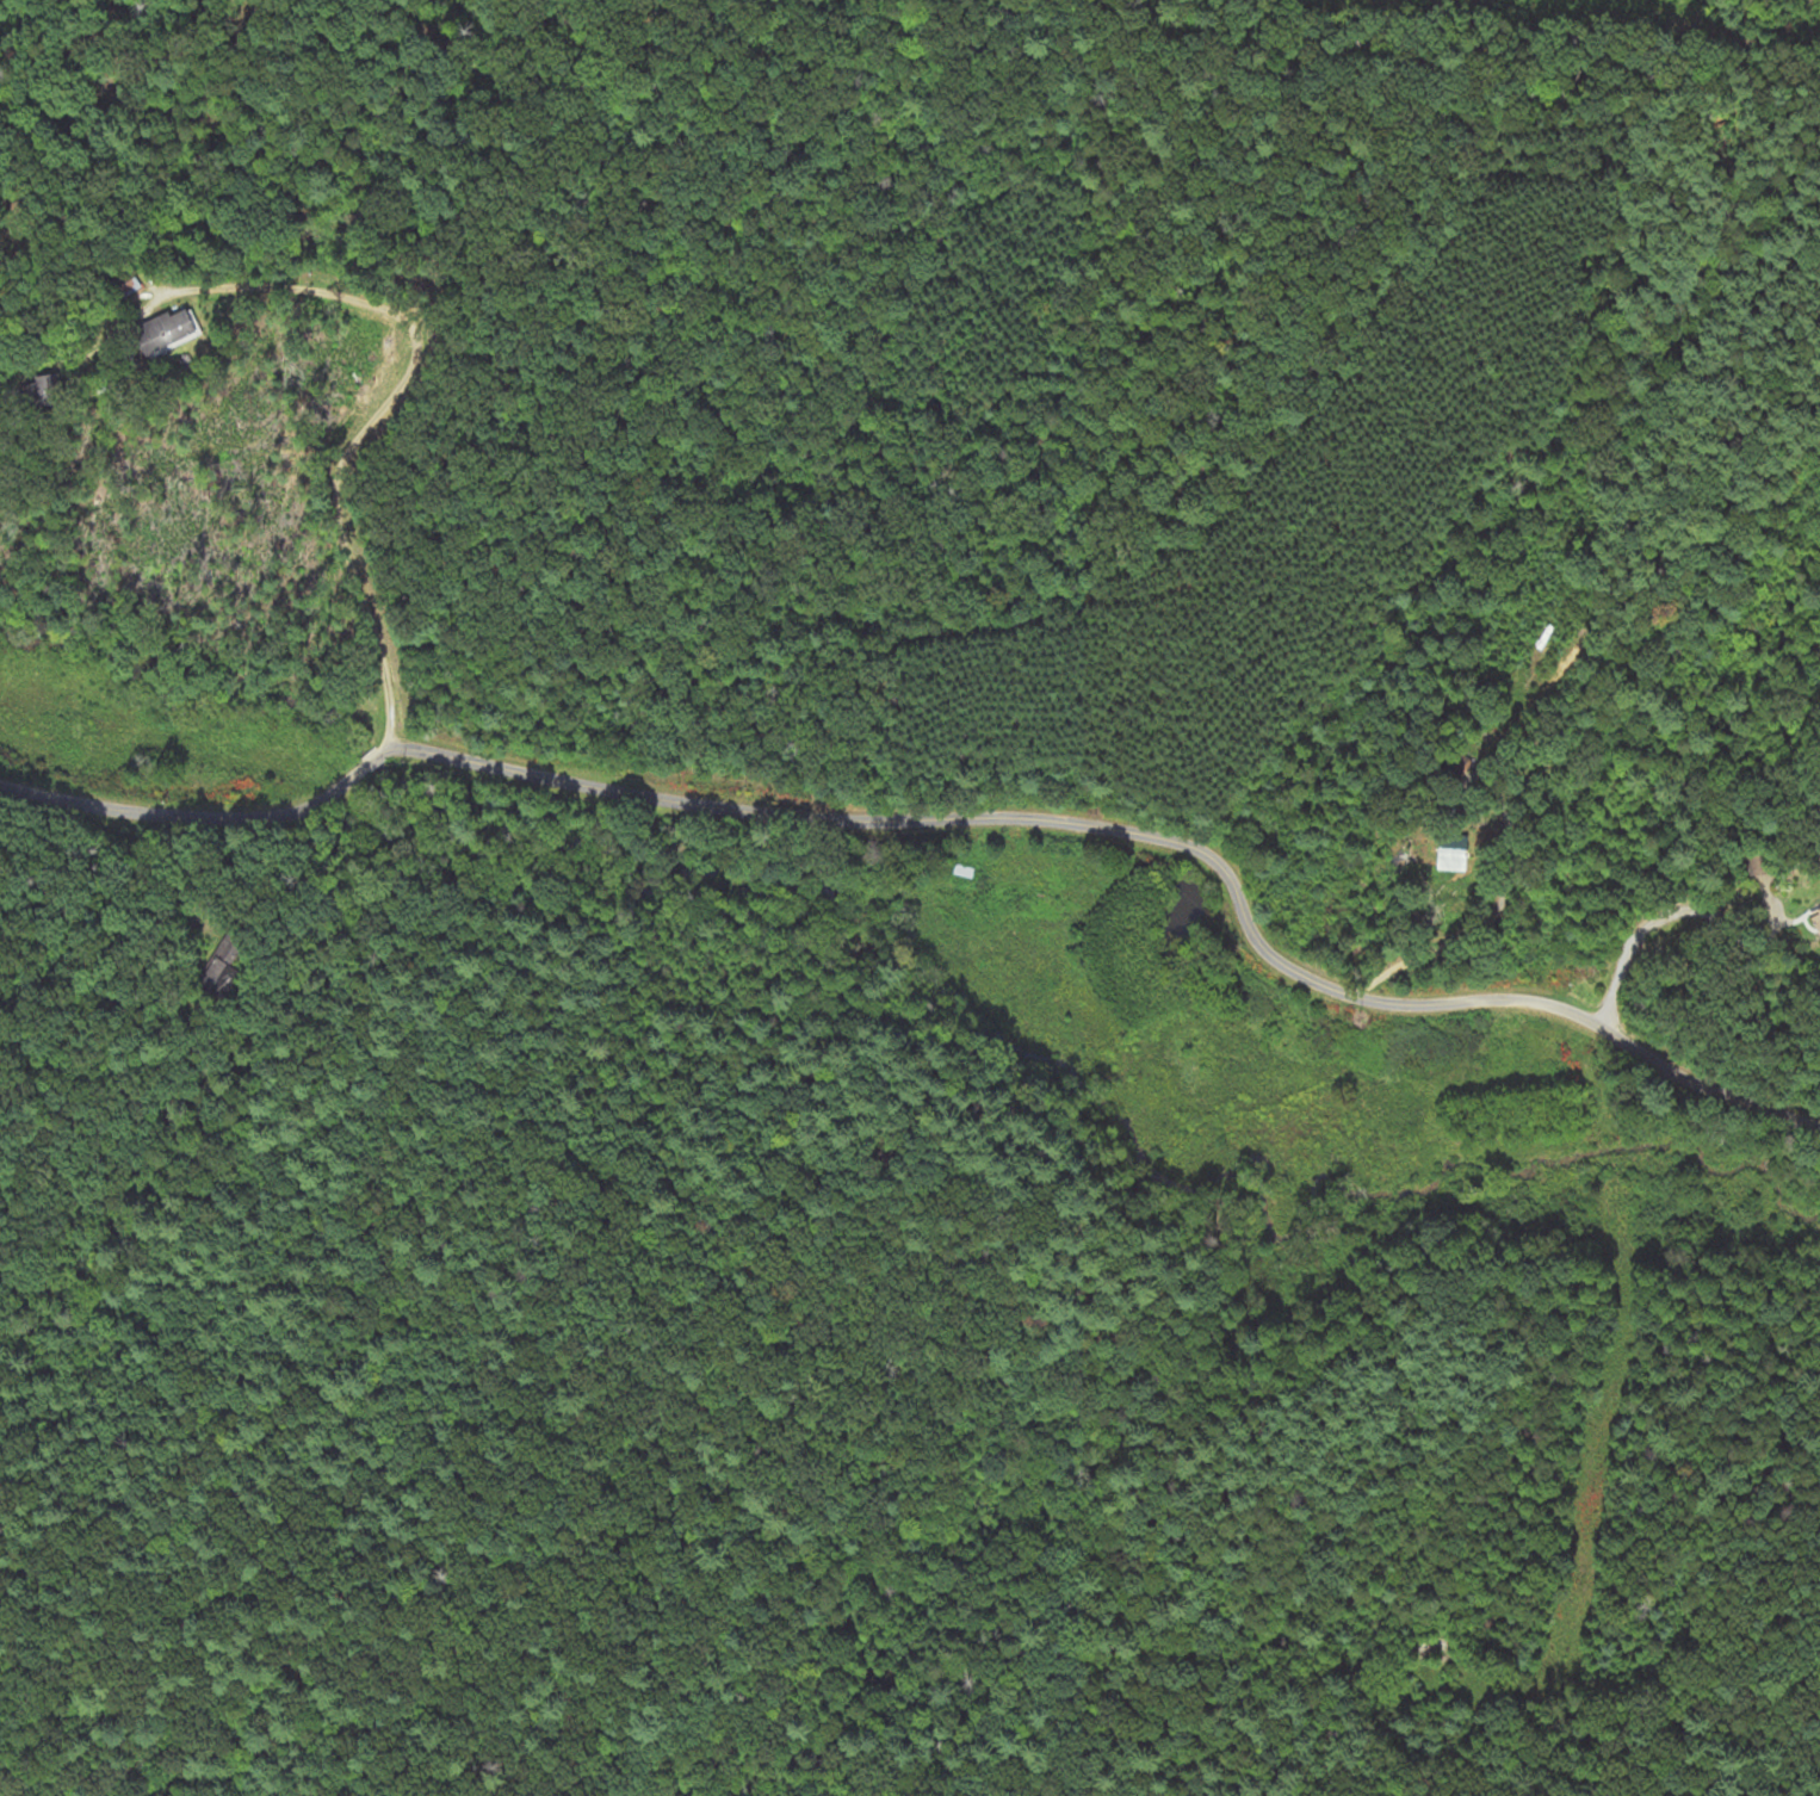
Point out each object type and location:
building: (166, 334)
road: (384, 403)
road: (946, 813)
building: (1815, 922)
road: (1443, 1714)

